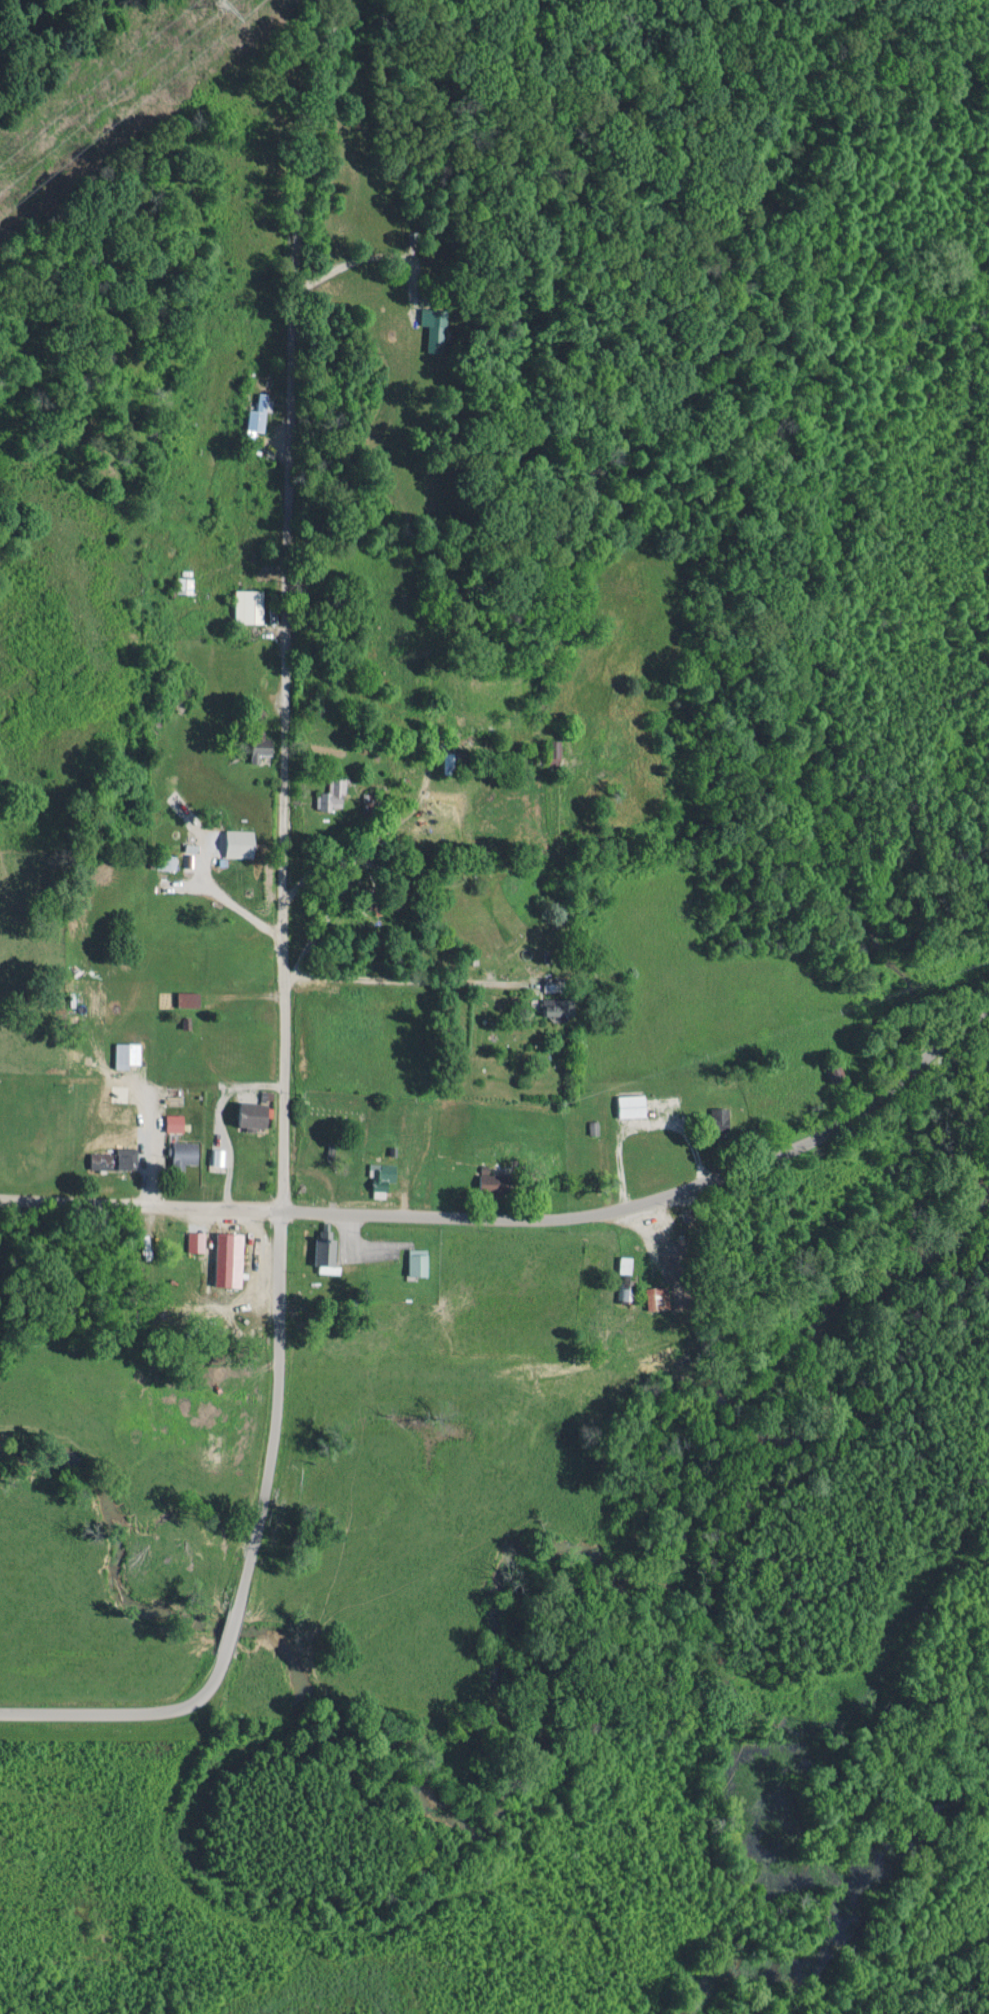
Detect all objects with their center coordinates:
power tower: (219, 5)
building: (253, 415)
building: (249, 605)
road: (287, 605)
building: (261, 748)
building: (330, 792)
building: (241, 843)
road: (414, 983)
building: (190, 998)
building: (129, 1054)
building: (634, 1105)
building: (256, 1114)
building: (721, 1116)
building: (176, 1122)
road: (148, 1149)
building: (186, 1152)
building: (218, 1156)
building: (114, 1160)
building: (385, 1179)
building: (495, 1182)
road: (523, 1217)
building: (197, 1241)
building: (330, 1256)
building: (231, 1259)
building: (420, 1261)
building: (627, 1264)
building: (625, 1293)
building: (657, 1298)
road: (252, 1560)

